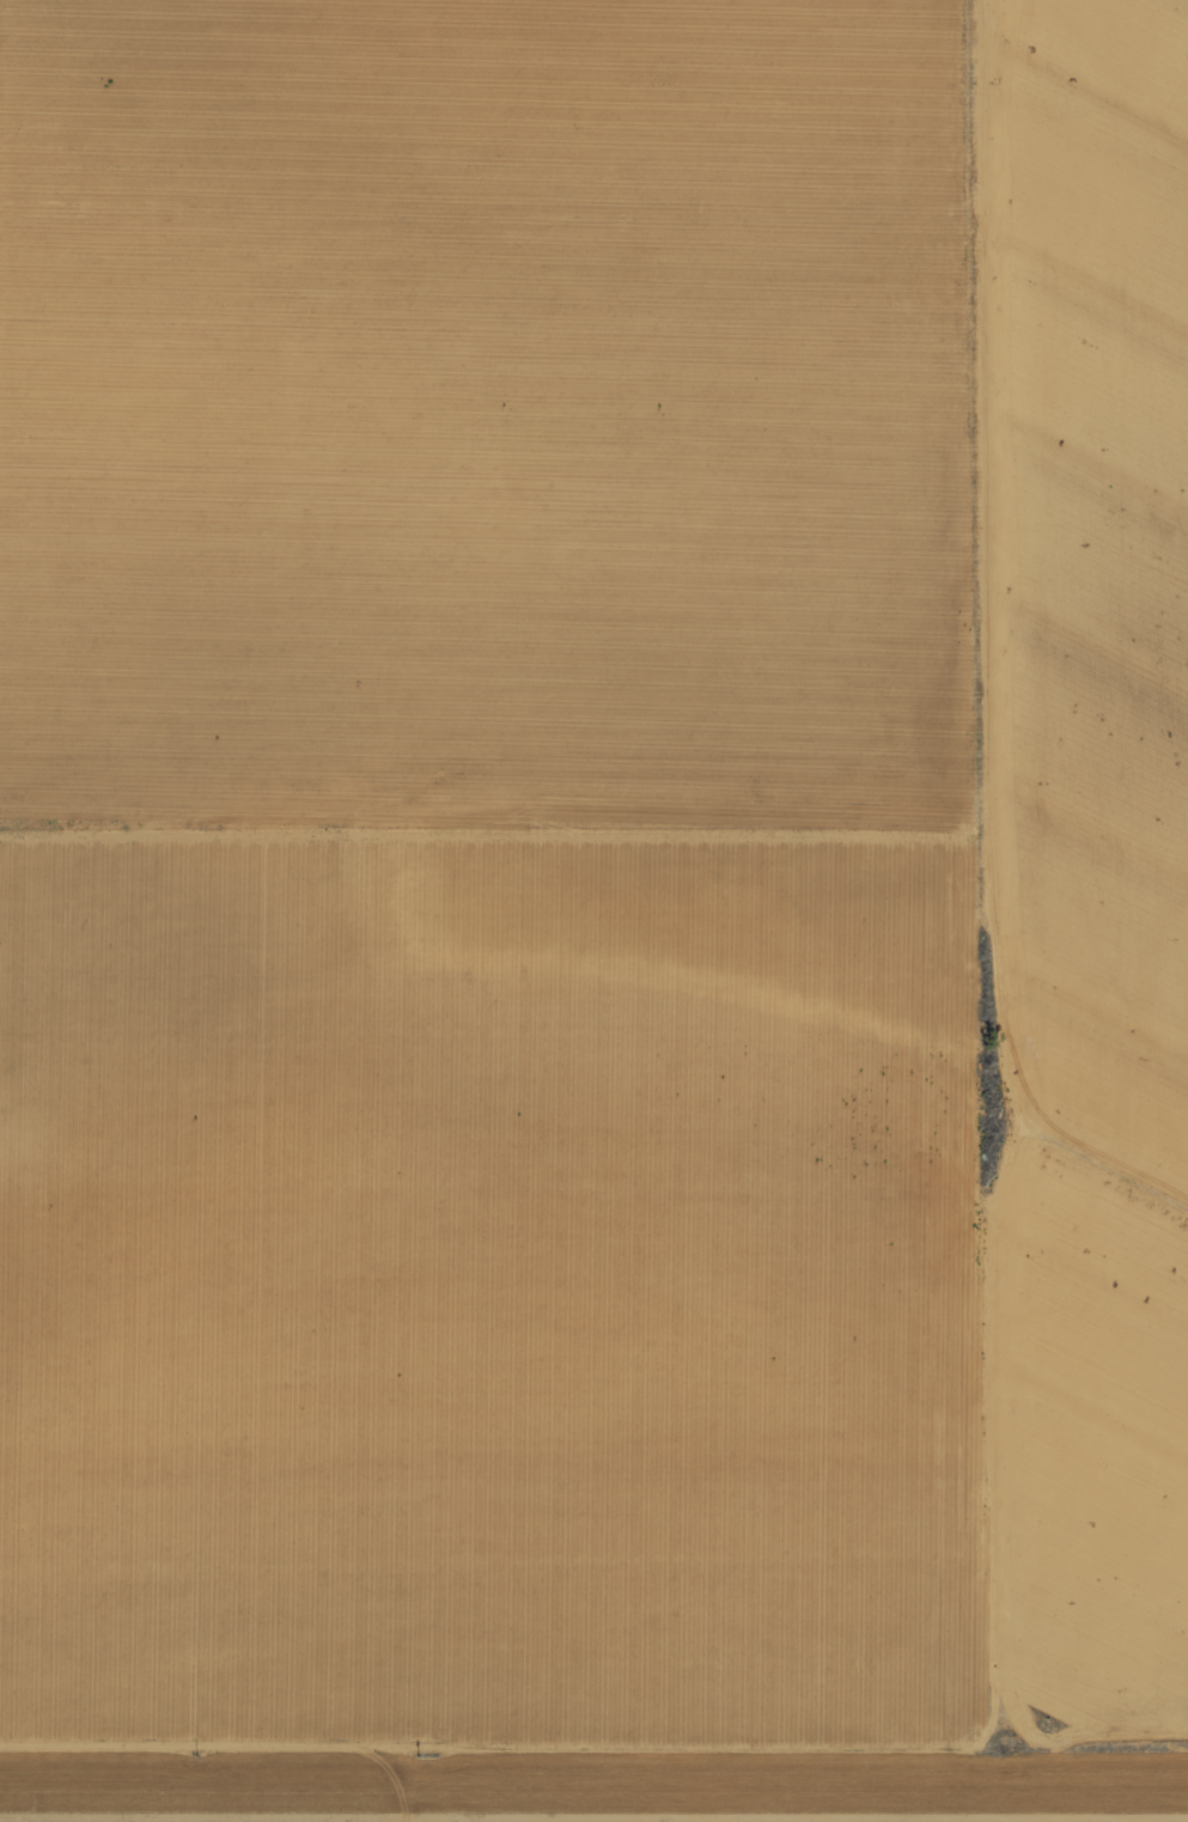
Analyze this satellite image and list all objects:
road: (398, 1798)

